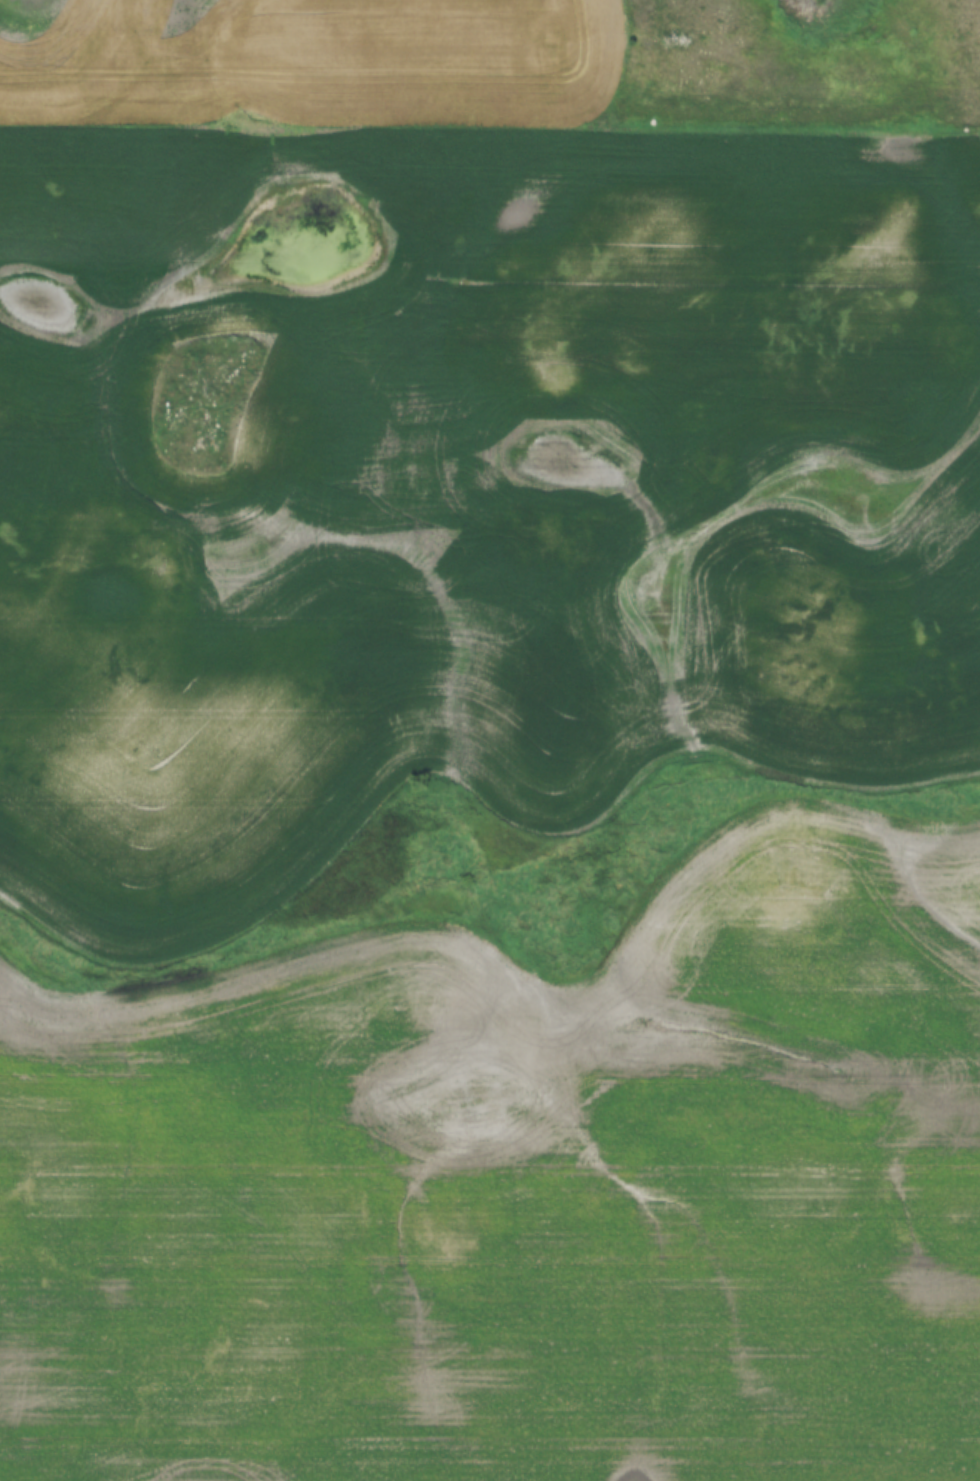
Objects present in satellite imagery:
road: (354, 125)

